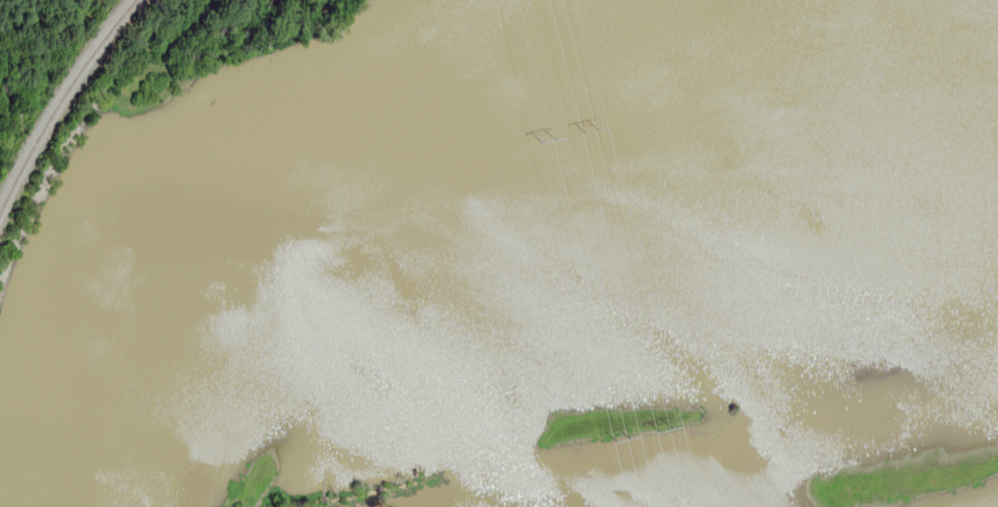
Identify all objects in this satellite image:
railway: (57, 101)
power tower: (604, 129)
power tower: (559, 140)
power tower: (678, 430)
power tower: (634, 442)
river: (747, 453)

